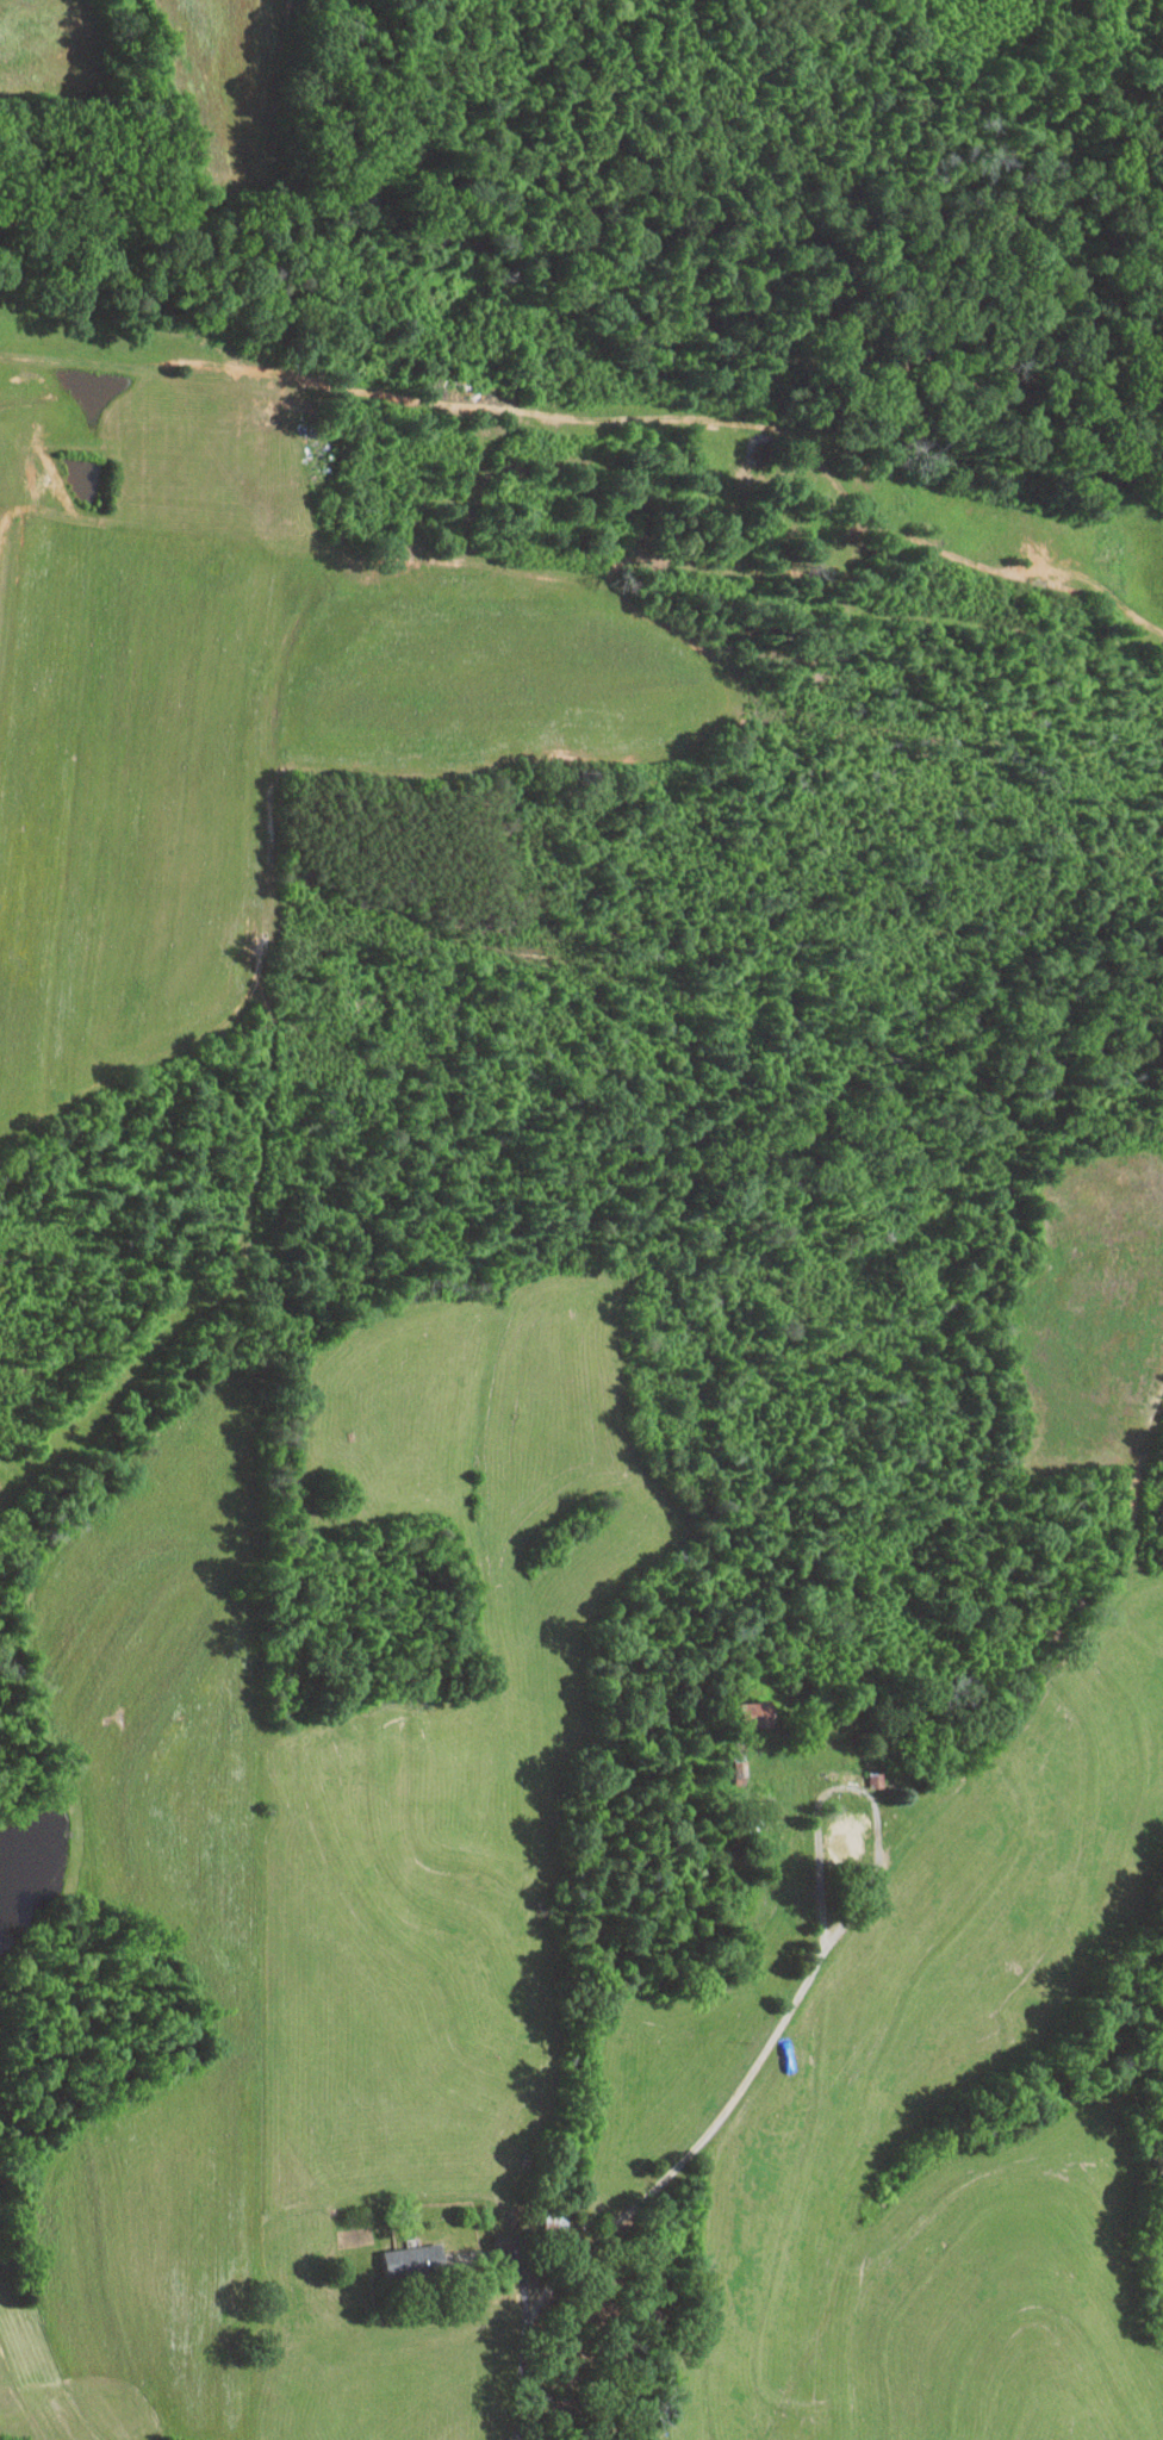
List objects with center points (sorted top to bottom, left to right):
building: (757, 1714)
road: (851, 1785)
building: (850, 1837)
road: (652, 2189)
building: (413, 2258)
road: (522, 2274)

